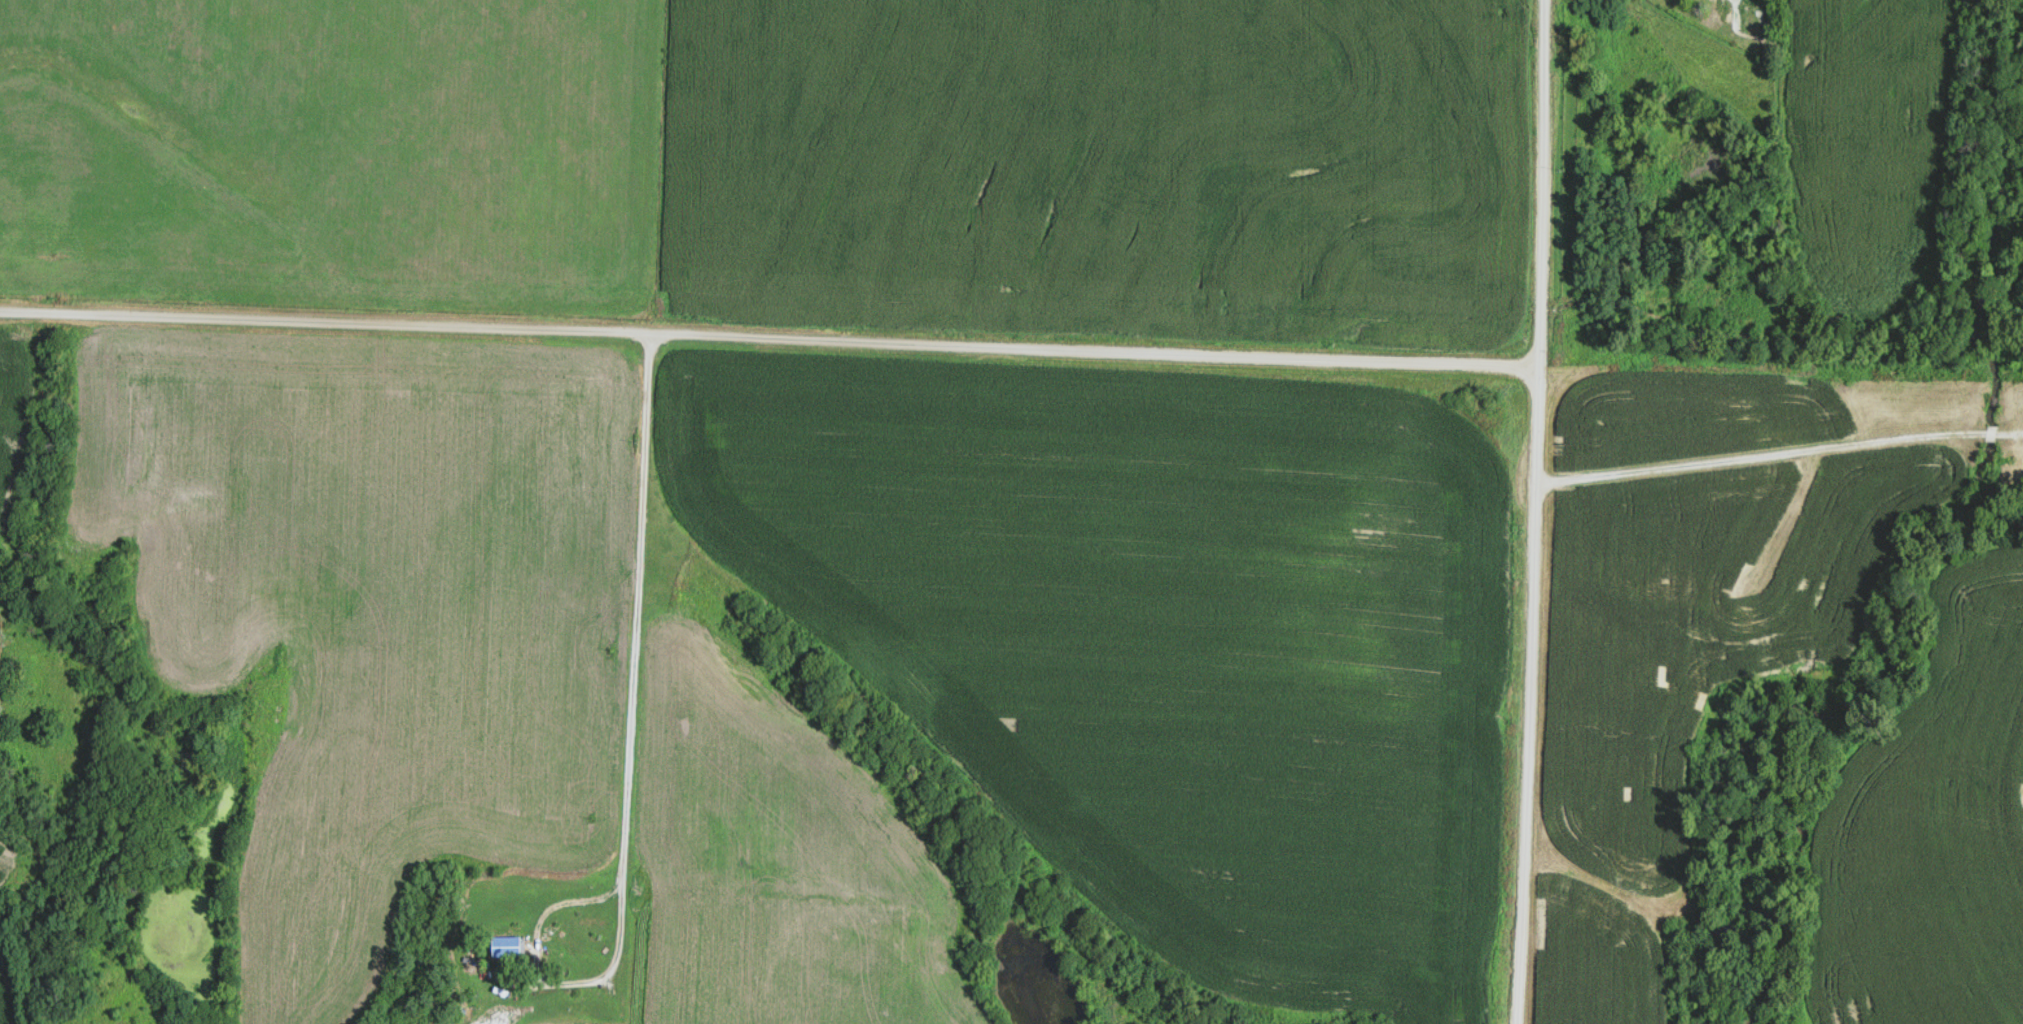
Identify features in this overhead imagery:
road: (769, 336)
road: (1779, 452)
road: (1534, 512)
road: (632, 692)
building: (509, 947)

